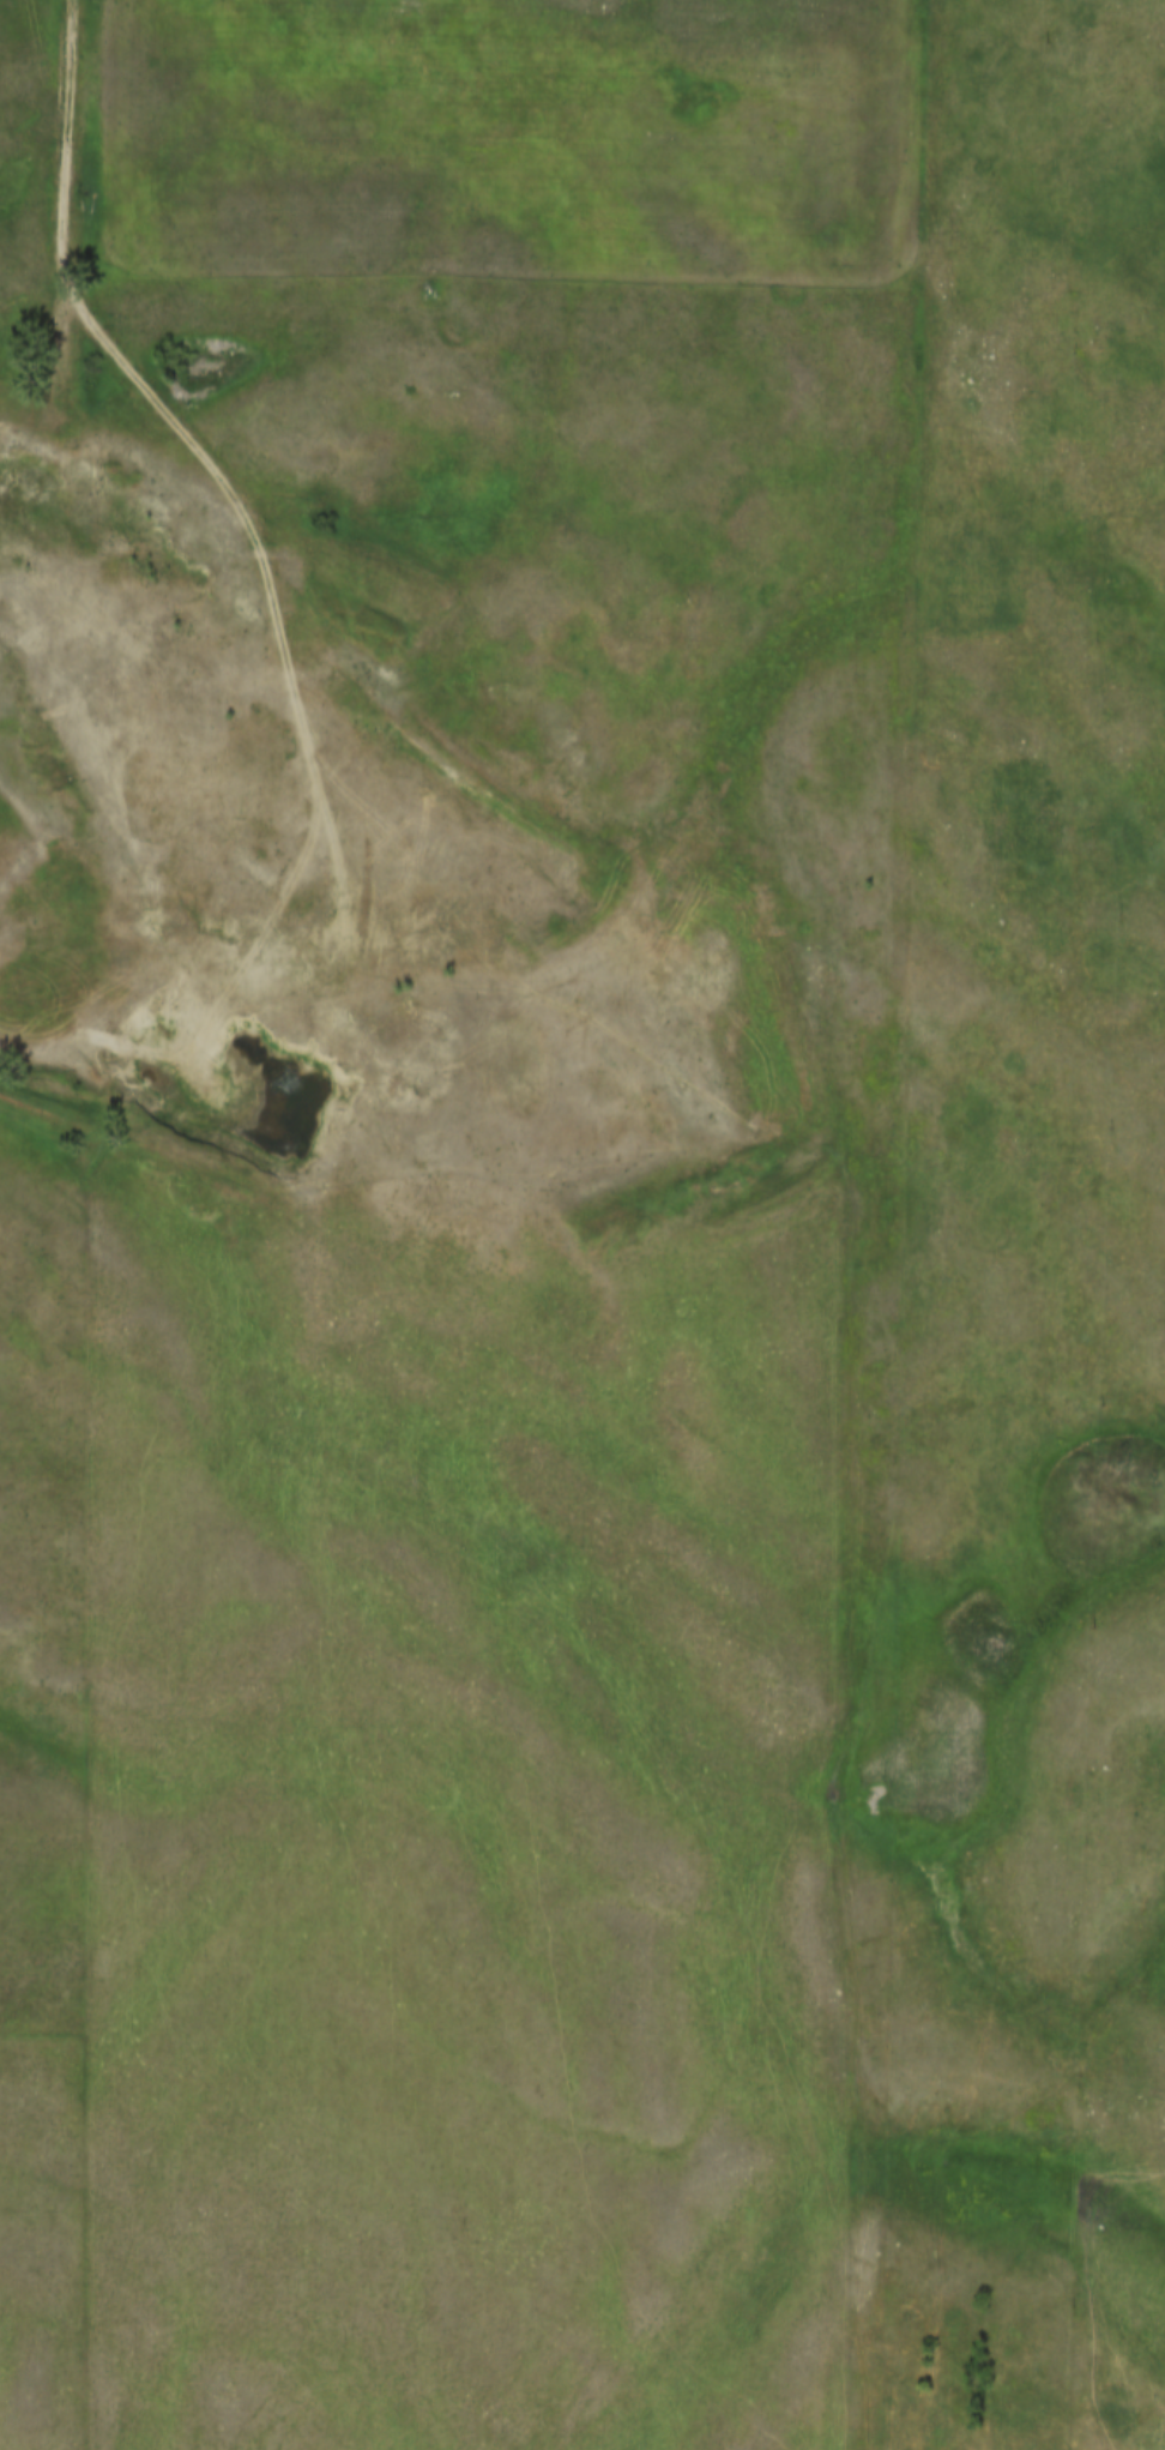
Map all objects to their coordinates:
road: (128, 383)
quarry: (256, 814)
road: (212, 962)

